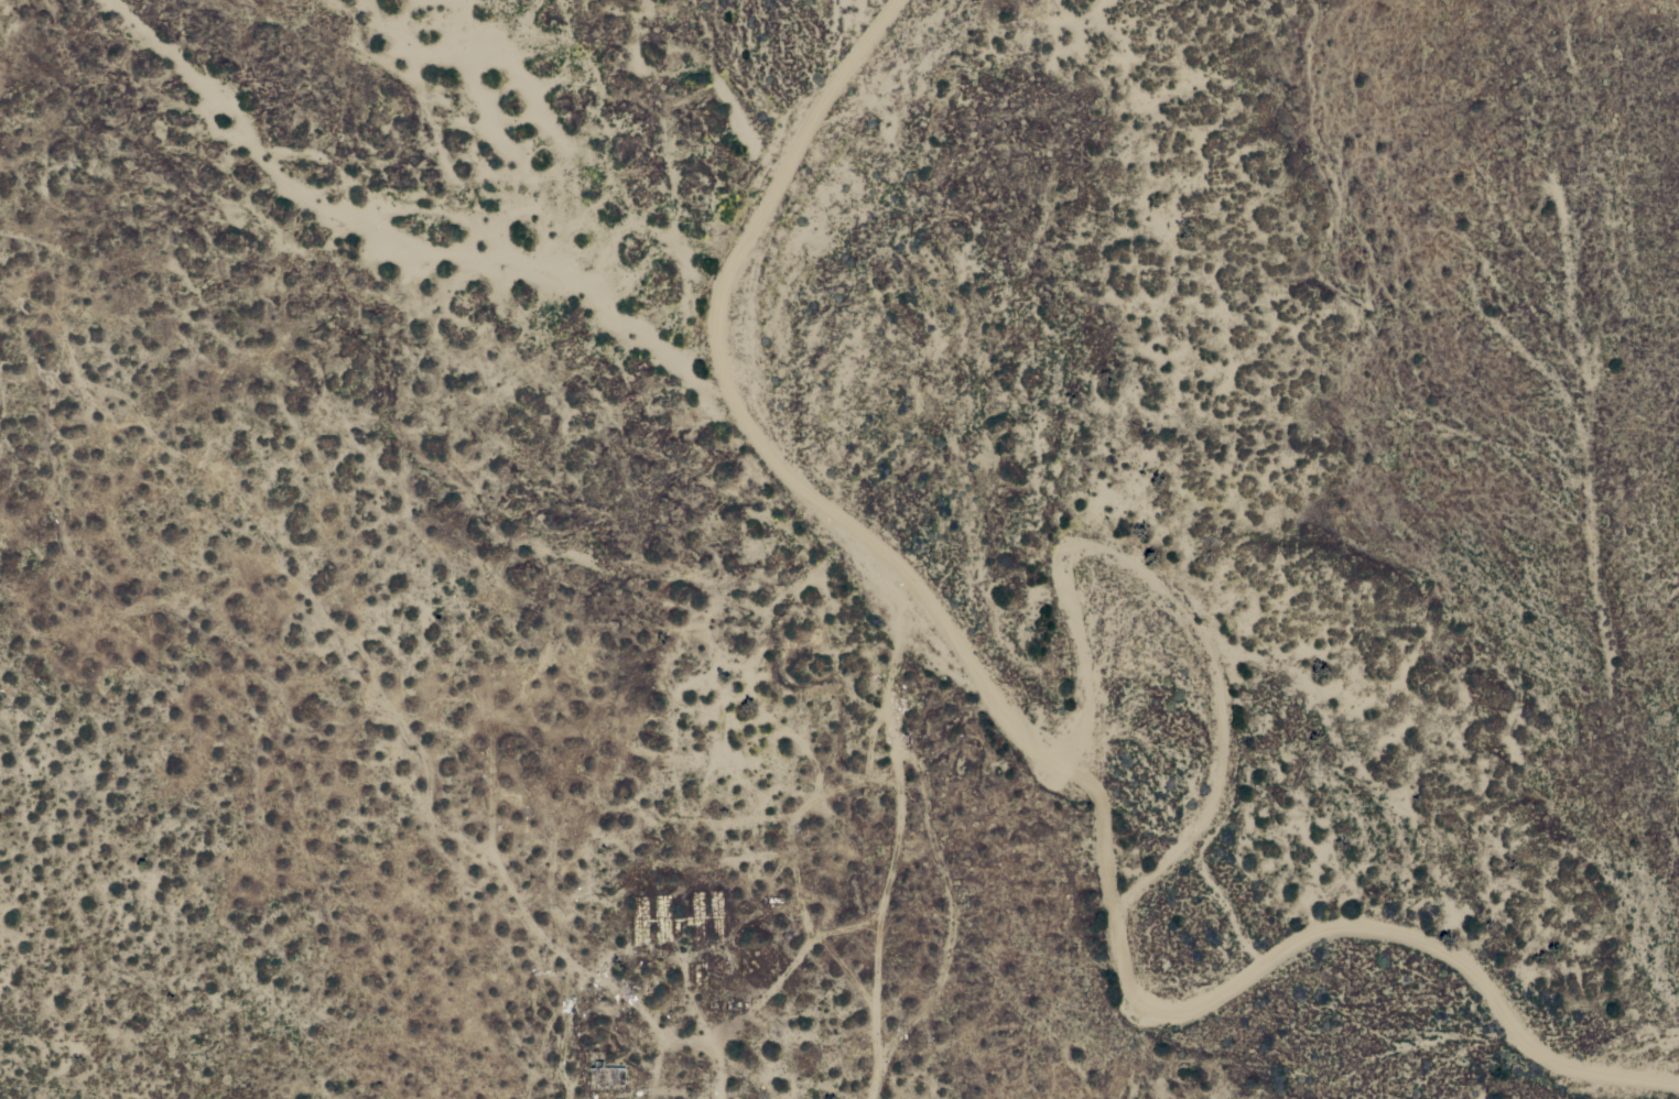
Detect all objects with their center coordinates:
road: (847, 527)
road: (701, 884)
road: (1212, 997)
road: (664, 1087)

